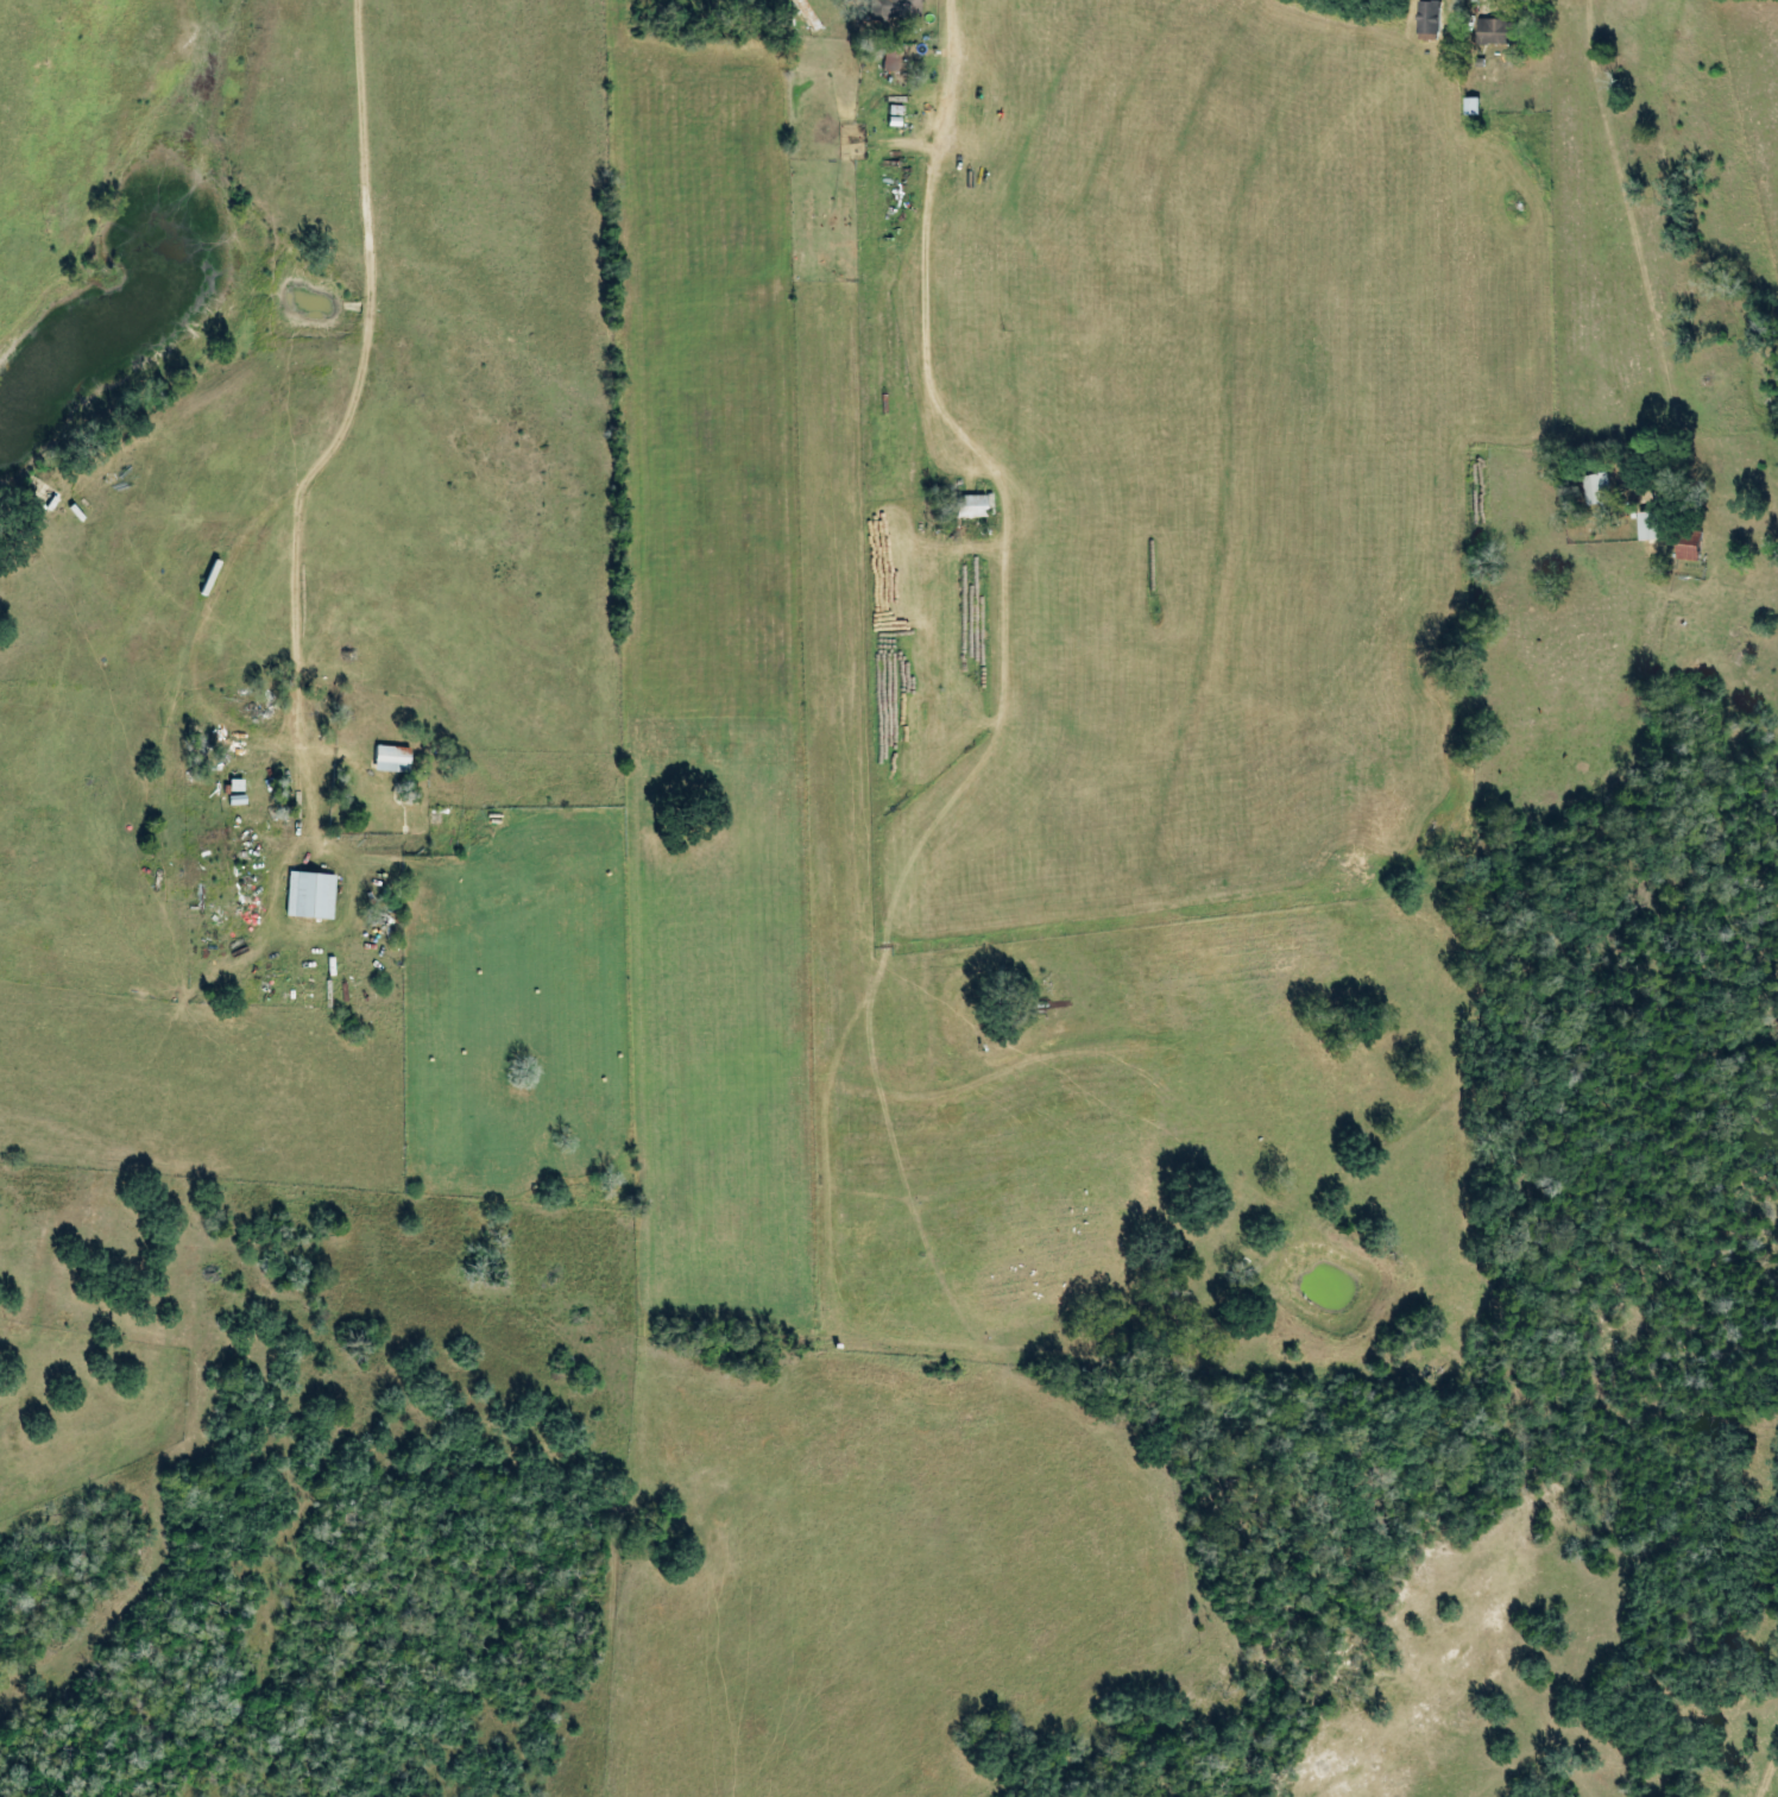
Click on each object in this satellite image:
building: (894, 8)
building: (806, 14)
building: (1431, 19)
building: (1500, 31)
building: (891, 56)
building: (1473, 105)
road: (1621, 231)
road: (279, 478)
building: (1599, 487)
building: (971, 505)
building: (1651, 524)
building: (1689, 549)
building: (391, 758)
building: (235, 784)
building: (237, 799)
building: (309, 895)

